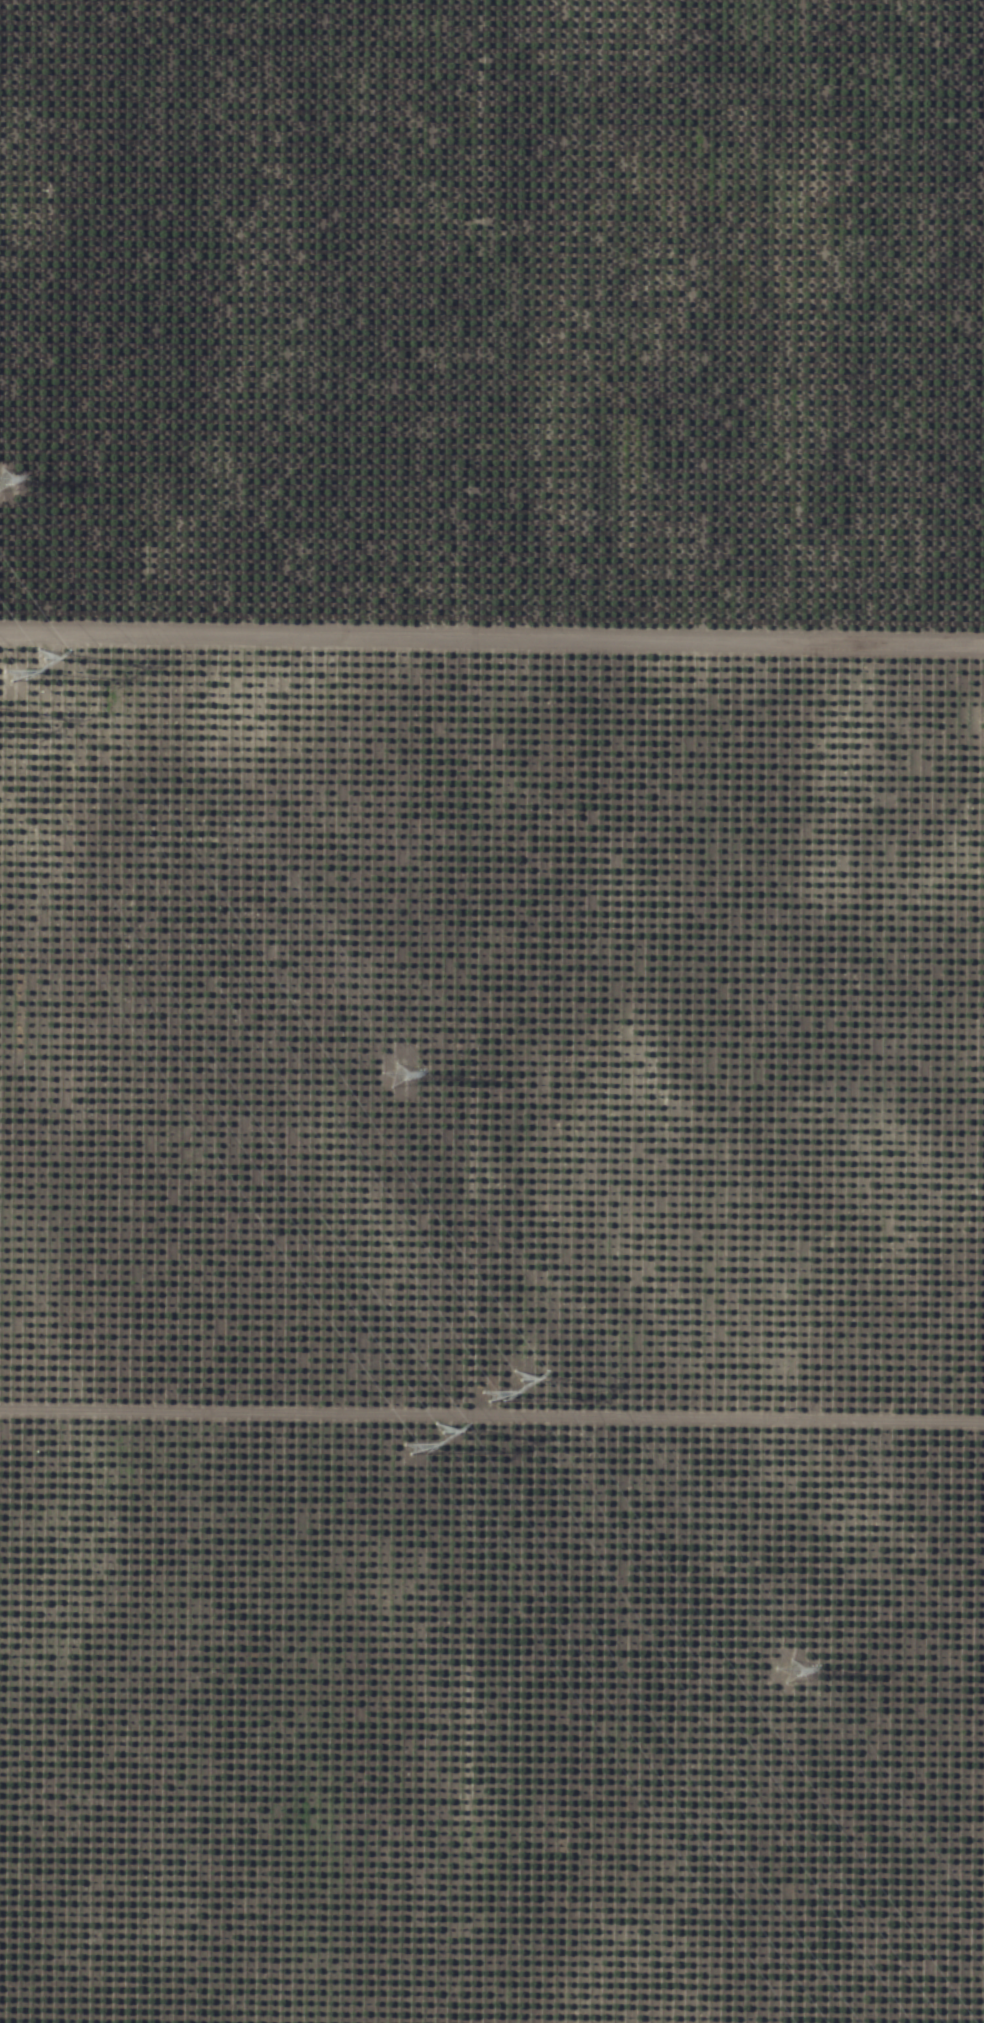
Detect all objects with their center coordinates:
power tower: (8, 488)
power tower: (26, 659)
power tower: (403, 1084)
power tower: (508, 1382)
power tower: (441, 1447)
power tower: (801, 1681)

